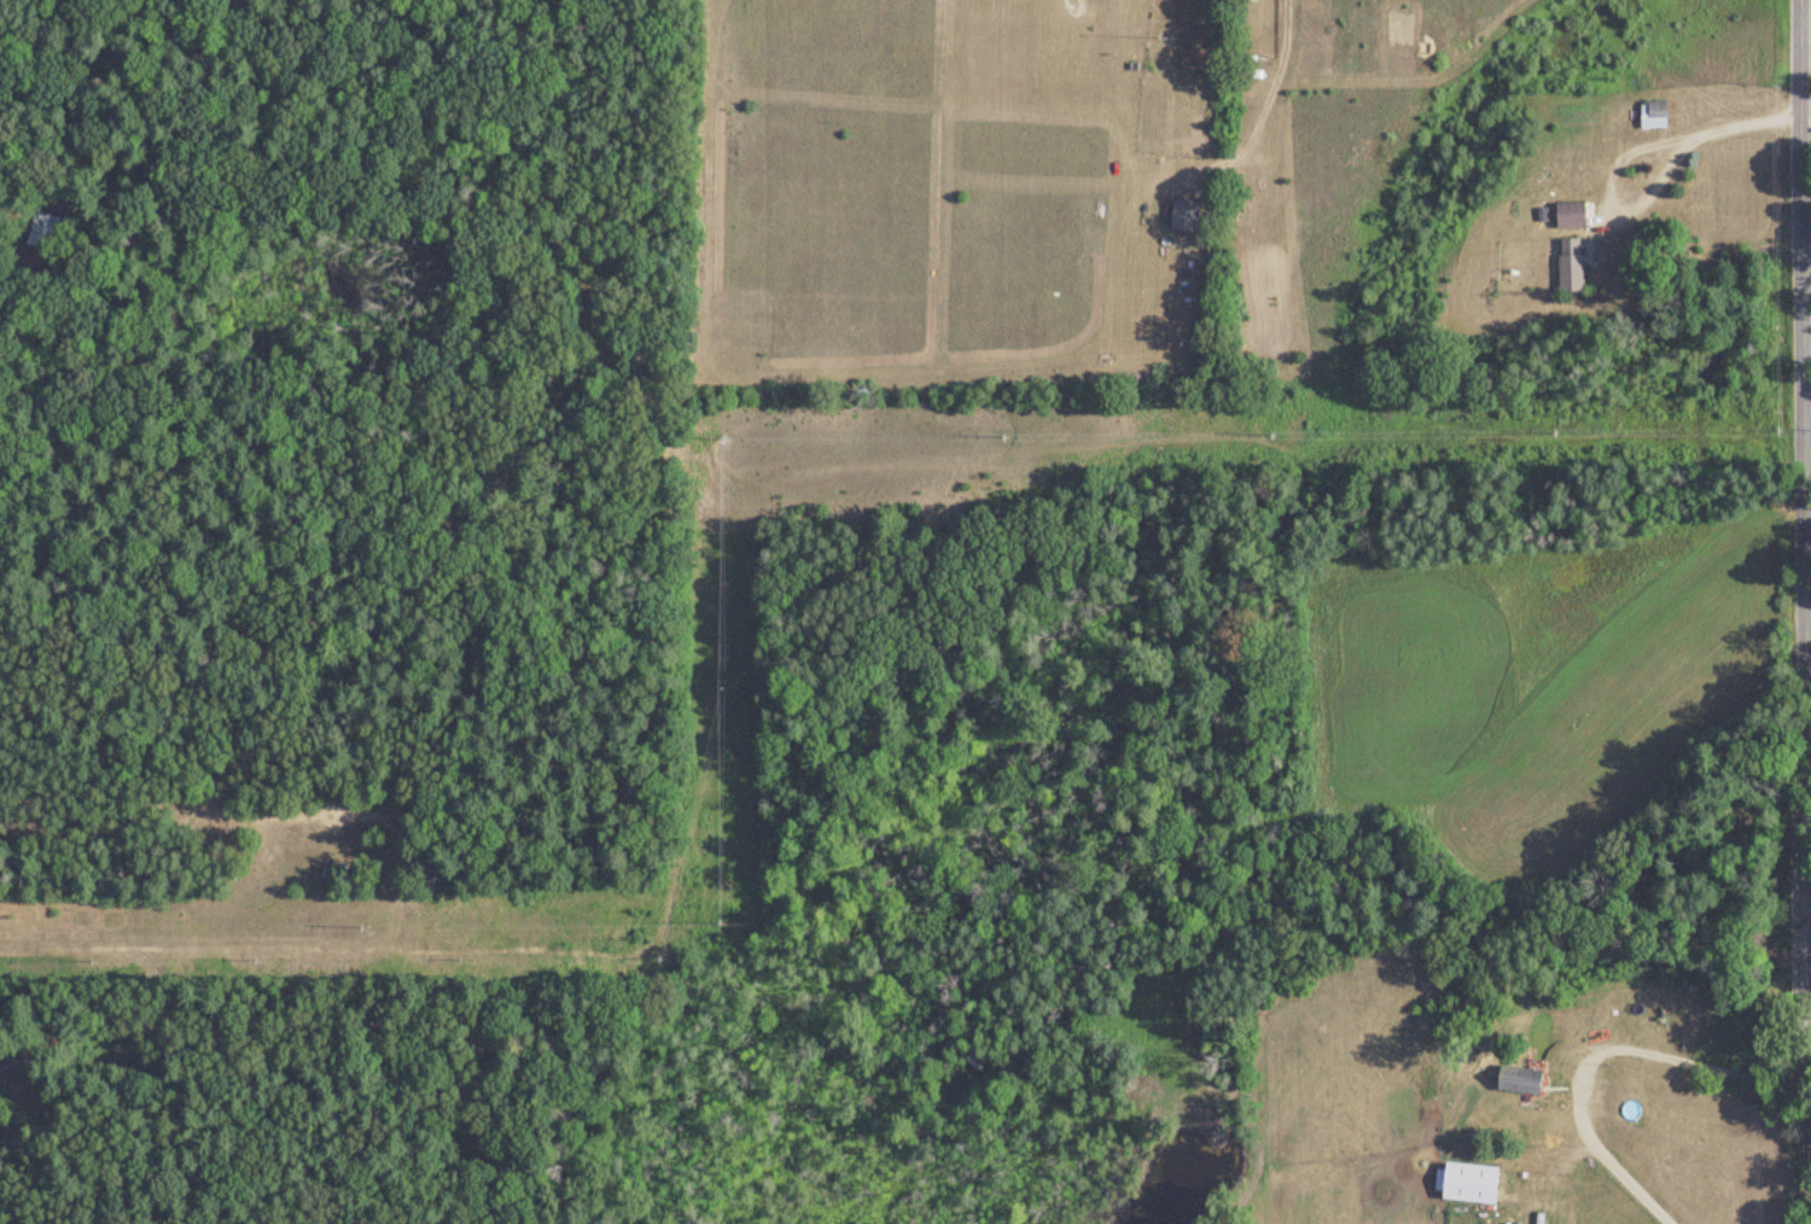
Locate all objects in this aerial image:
road: (6, 5)
road: (1804, 23)
road: (1370, 76)
road: (1805, 113)
building: (1650, 116)
road: (1625, 153)
building: (1568, 216)
building: (46, 231)
building: (1568, 267)
road: (1801, 605)
road: (249, 701)
building: (1638, 1009)
road: (1595, 1054)
building: (1516, 1079)
road: (4, 1135)

